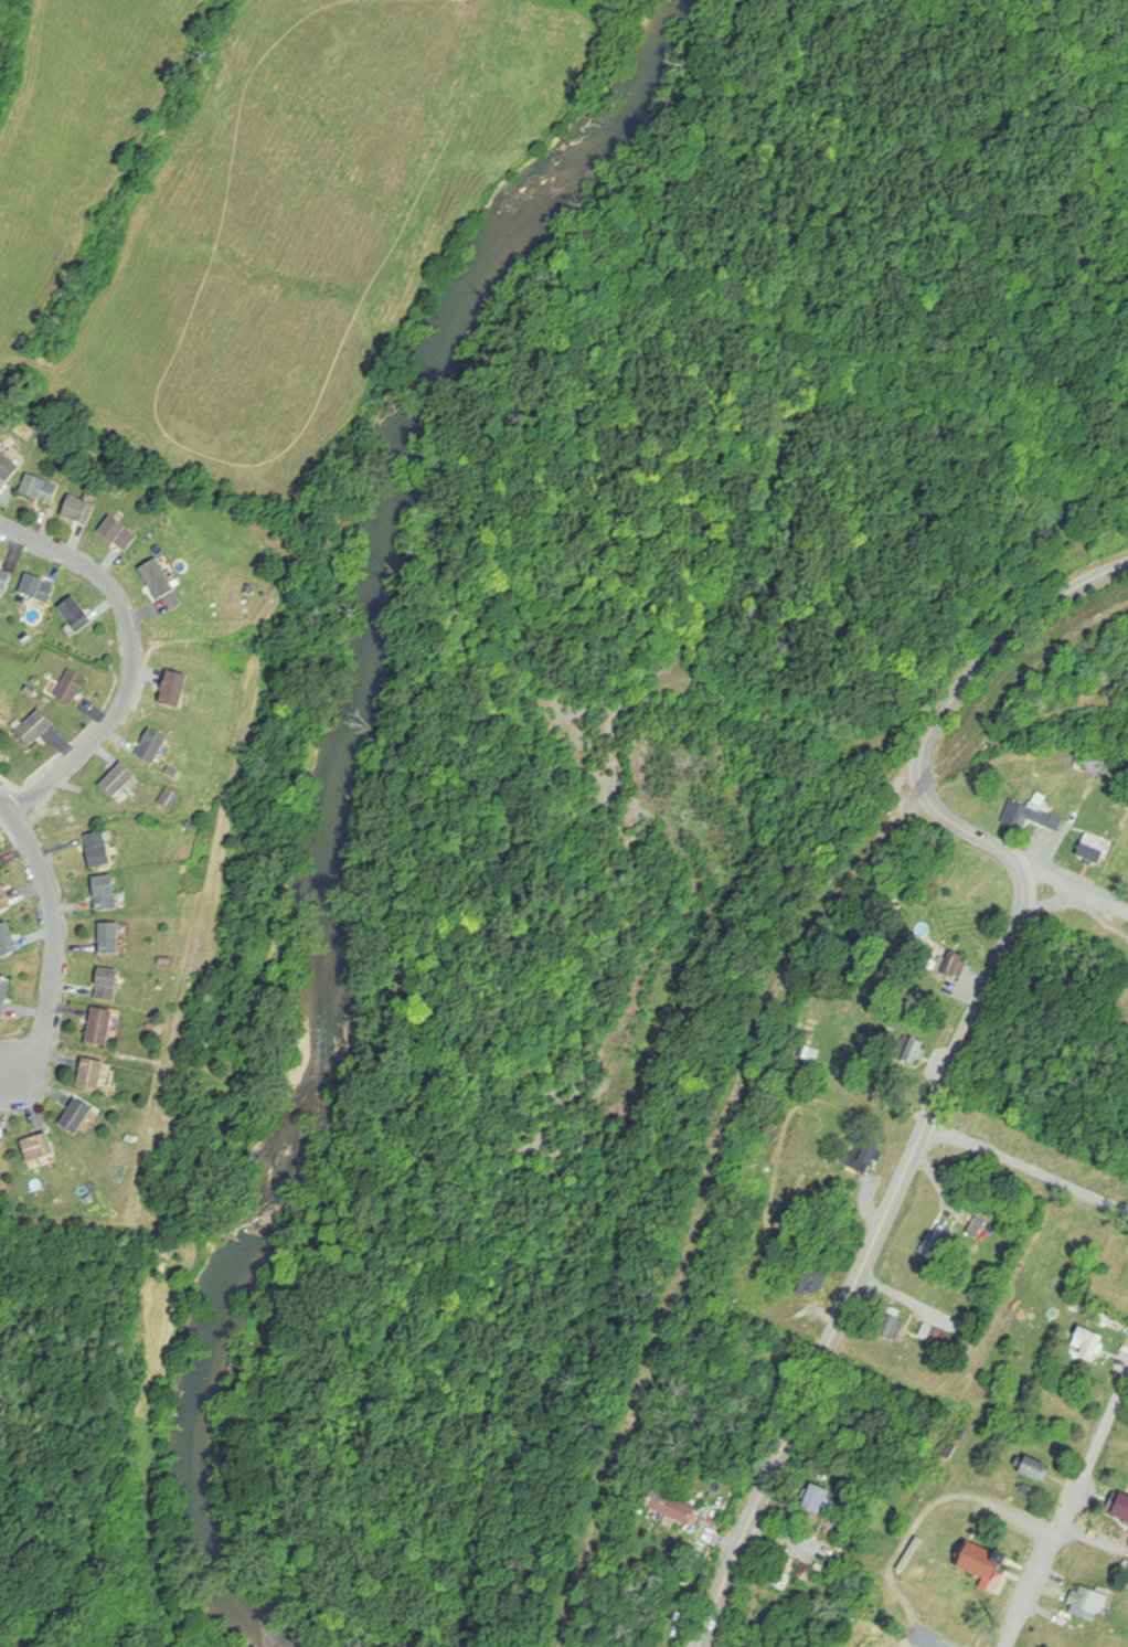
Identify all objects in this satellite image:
building: (8, 464)
building: (41, 488)
building: (81, 510)
building: (119, 533)
building: (159, 578)
building: (6, 580)
building: (39, 588)
building: (249, 589)
building: (77, 614)
road: (130, 660)
building: (72, 687)
building: (174, 690)
quarry: (1118, 697)
building: (1, 716)
building: (33, 729)
building: (152, 745)
building: (1099, 764)
building: (172, 771)
building: (118, 779)
river: (339, 796)
building: (170, 798)
building: (1035, 812)
building: (1094, 848)
building: (99, 849)
road: (1060, 875)
building: (106, 892)
building: (4, 900)
road: (1061, 901)
building: (111, 937)
road: (56, 939)
building: (8, 941)
building: (954, 964)
building: (107, 982)
building: (4, 992)
building: (100, 1026)
building: (913, 1050)
road: (959, 1051)
building: (92, 1073)
building: (77, 1116)
building: (1, 1145)
building: (40, 1147)
building: (864, 1155)
road: (1028, 1168)
building: (1067, 1236)
building: (938, 1243)
building: (811, 1278)
building: (1065, 1281)
building: (893, 1326)
building: (941, 1337)
building: (1090, 1342)
building: (1036, 1469)
building: (817, 1500)
building: (1119, 1506)
building: (672, 1509)
road: (1068, 1512)
road: (1095, 1538)
road: (907, 1541)
building: (985, 1562)
building: (824, 1572)
building: (784, 1573)
building: (1088, 1604)
building: (969, 1607)

